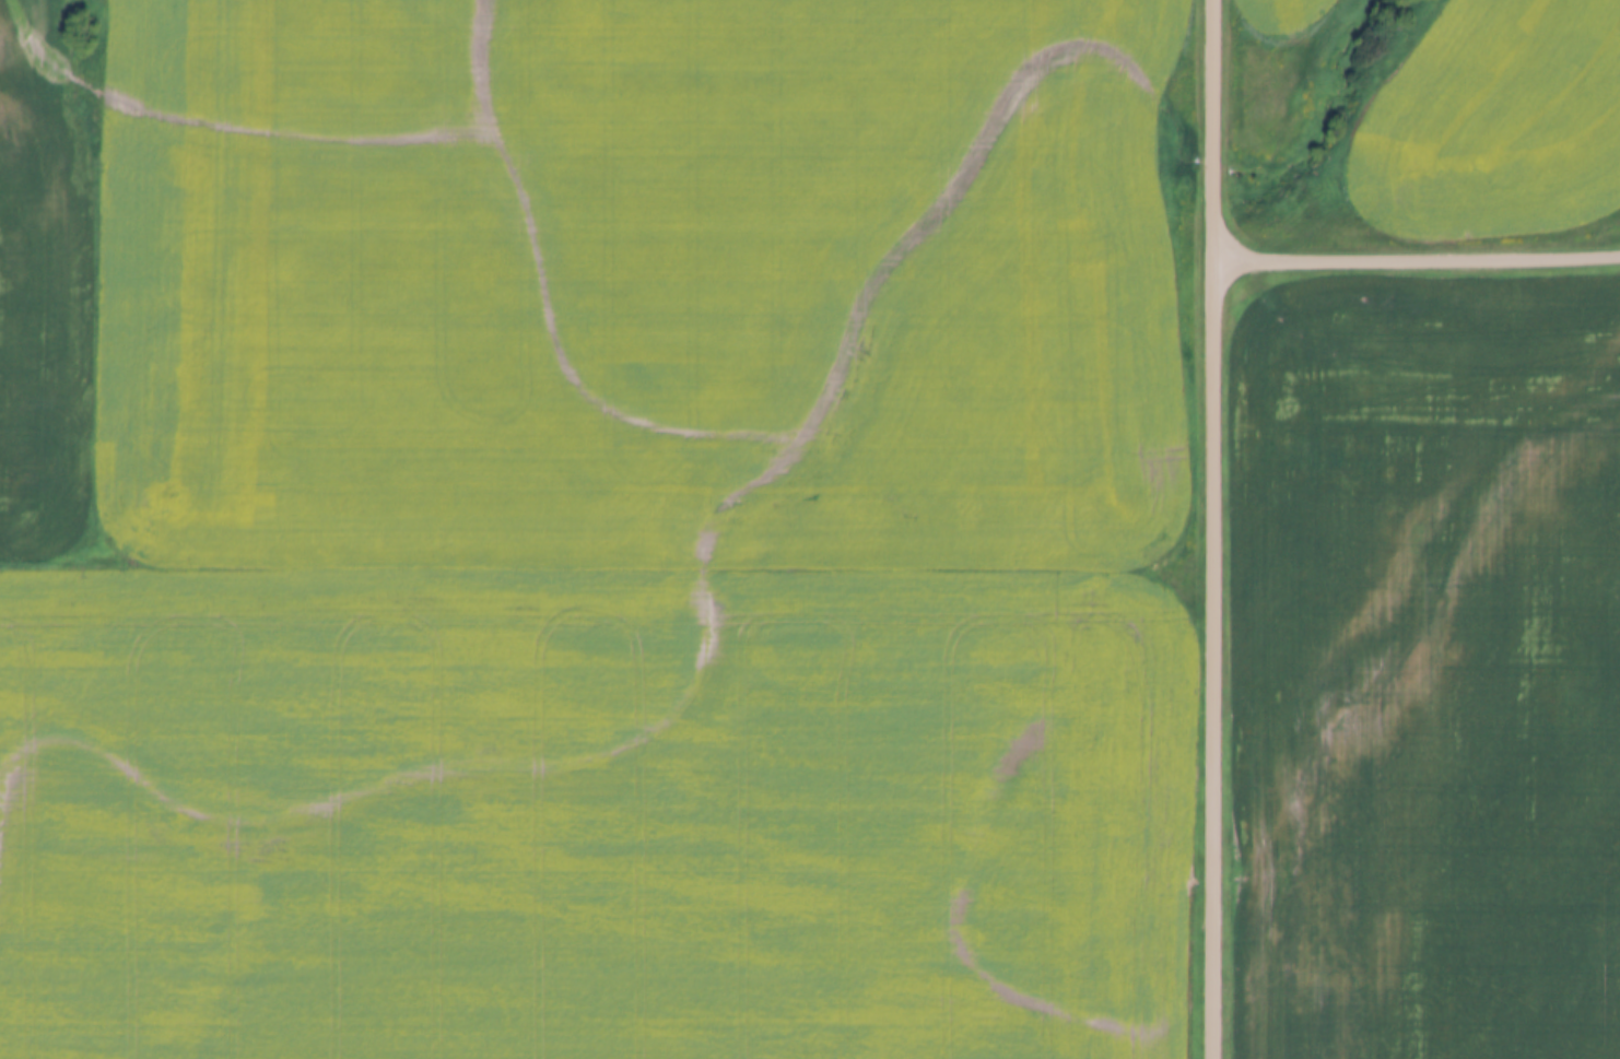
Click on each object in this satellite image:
road: (1420, 254)
road: (1219, 529)

